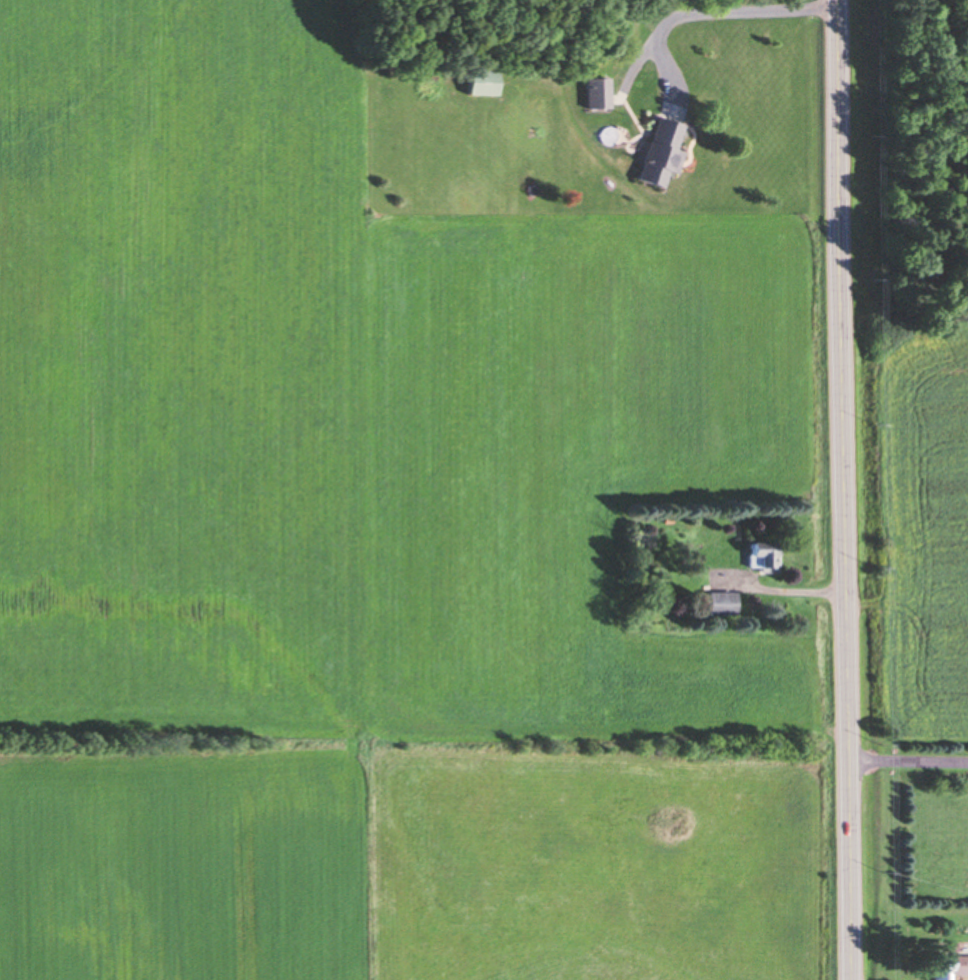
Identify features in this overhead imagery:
building: (481, 81)
building: (597, 91)
building: (660, 151)
road: (840, 490)
building: (759, 555)
building: (717, 601)
building: (947, 965)

